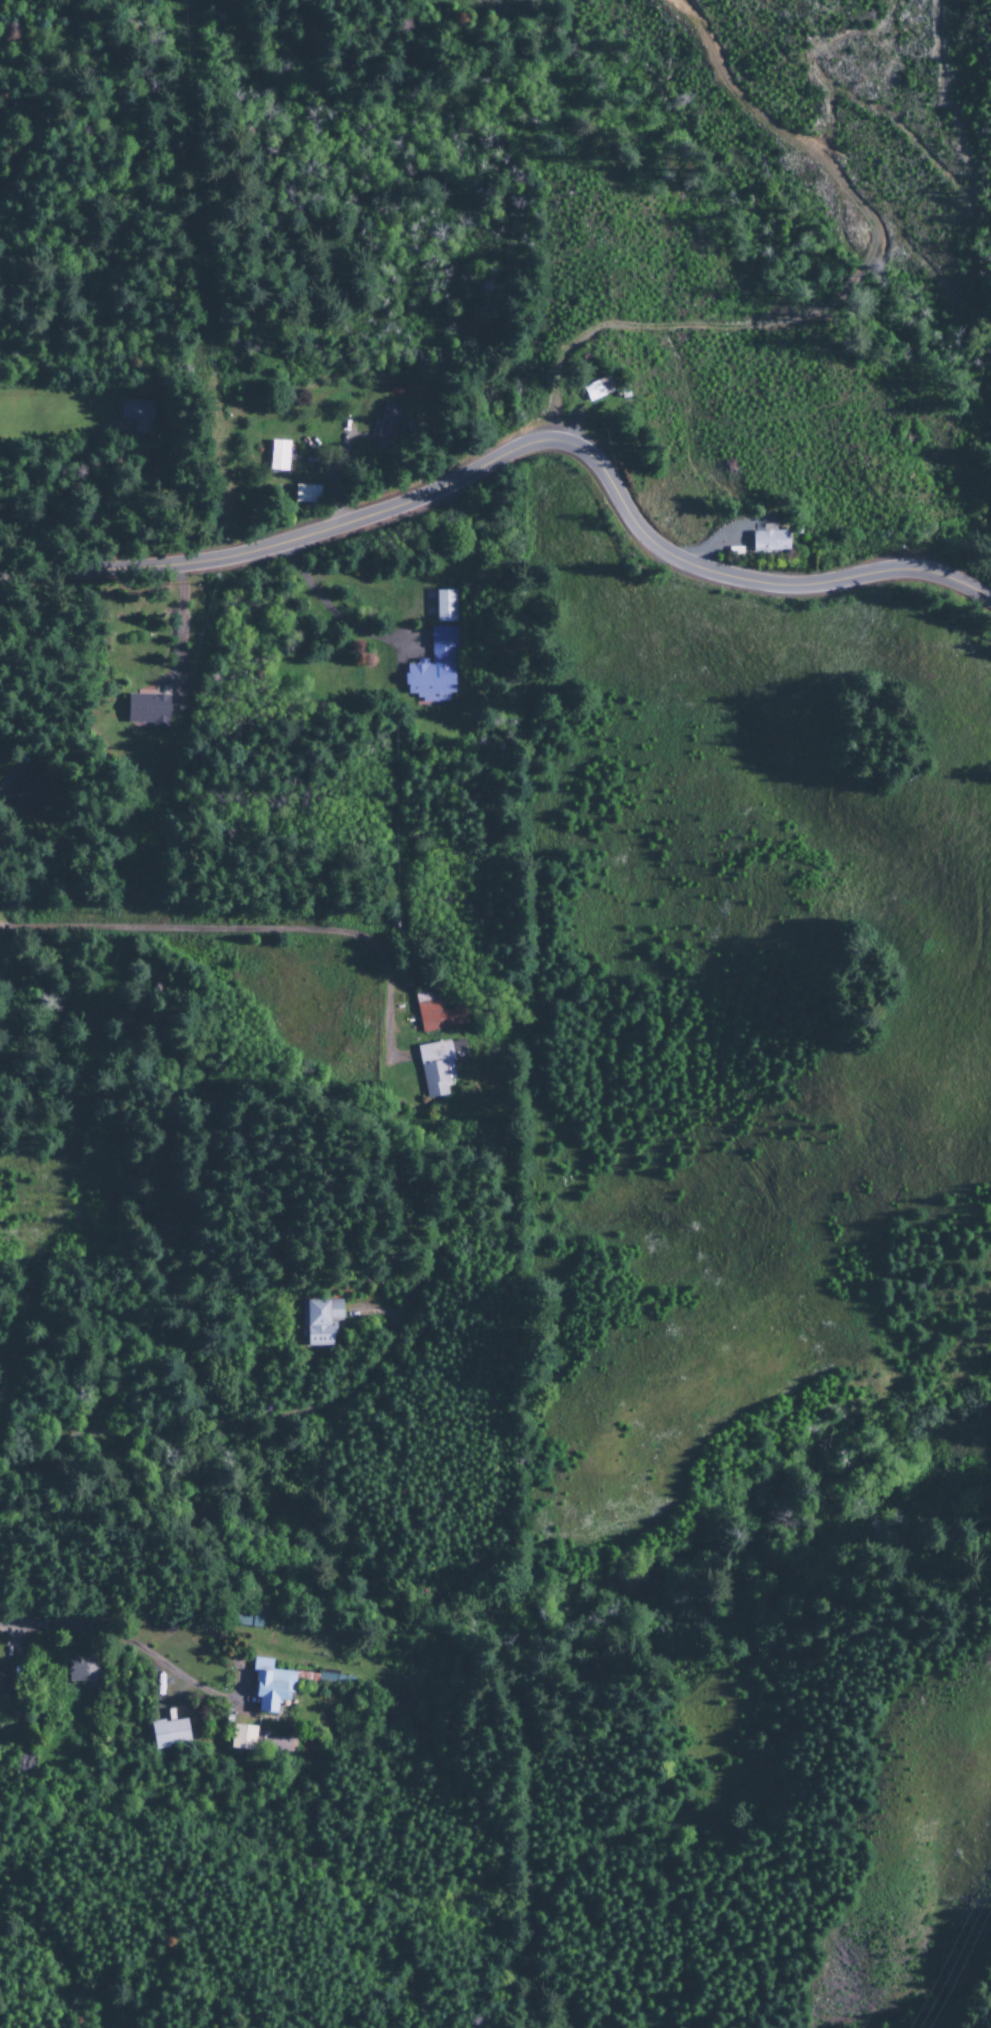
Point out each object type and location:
building: (597, 390)
building: (137, 415)
building: (387, 426)
road: (519, 448)
building: (278, 456)
building: (305, 494)
building: (769, 540)
building: (445, 606)
building: (434, 668)
building: (146, 711)
building: (24, 792)
road: (4, 838)
road: (176, 935)
building: (435, 1013)
building: (438, 1066)
building: (319, 1322)
building: (250, 1617)
road: (48, 1627)
building: (75, 1668)
building: (6, 1681)
building: (270, 1687)
building: (169, 1733)
building: (241, 1739)
building: (308, 1753)

